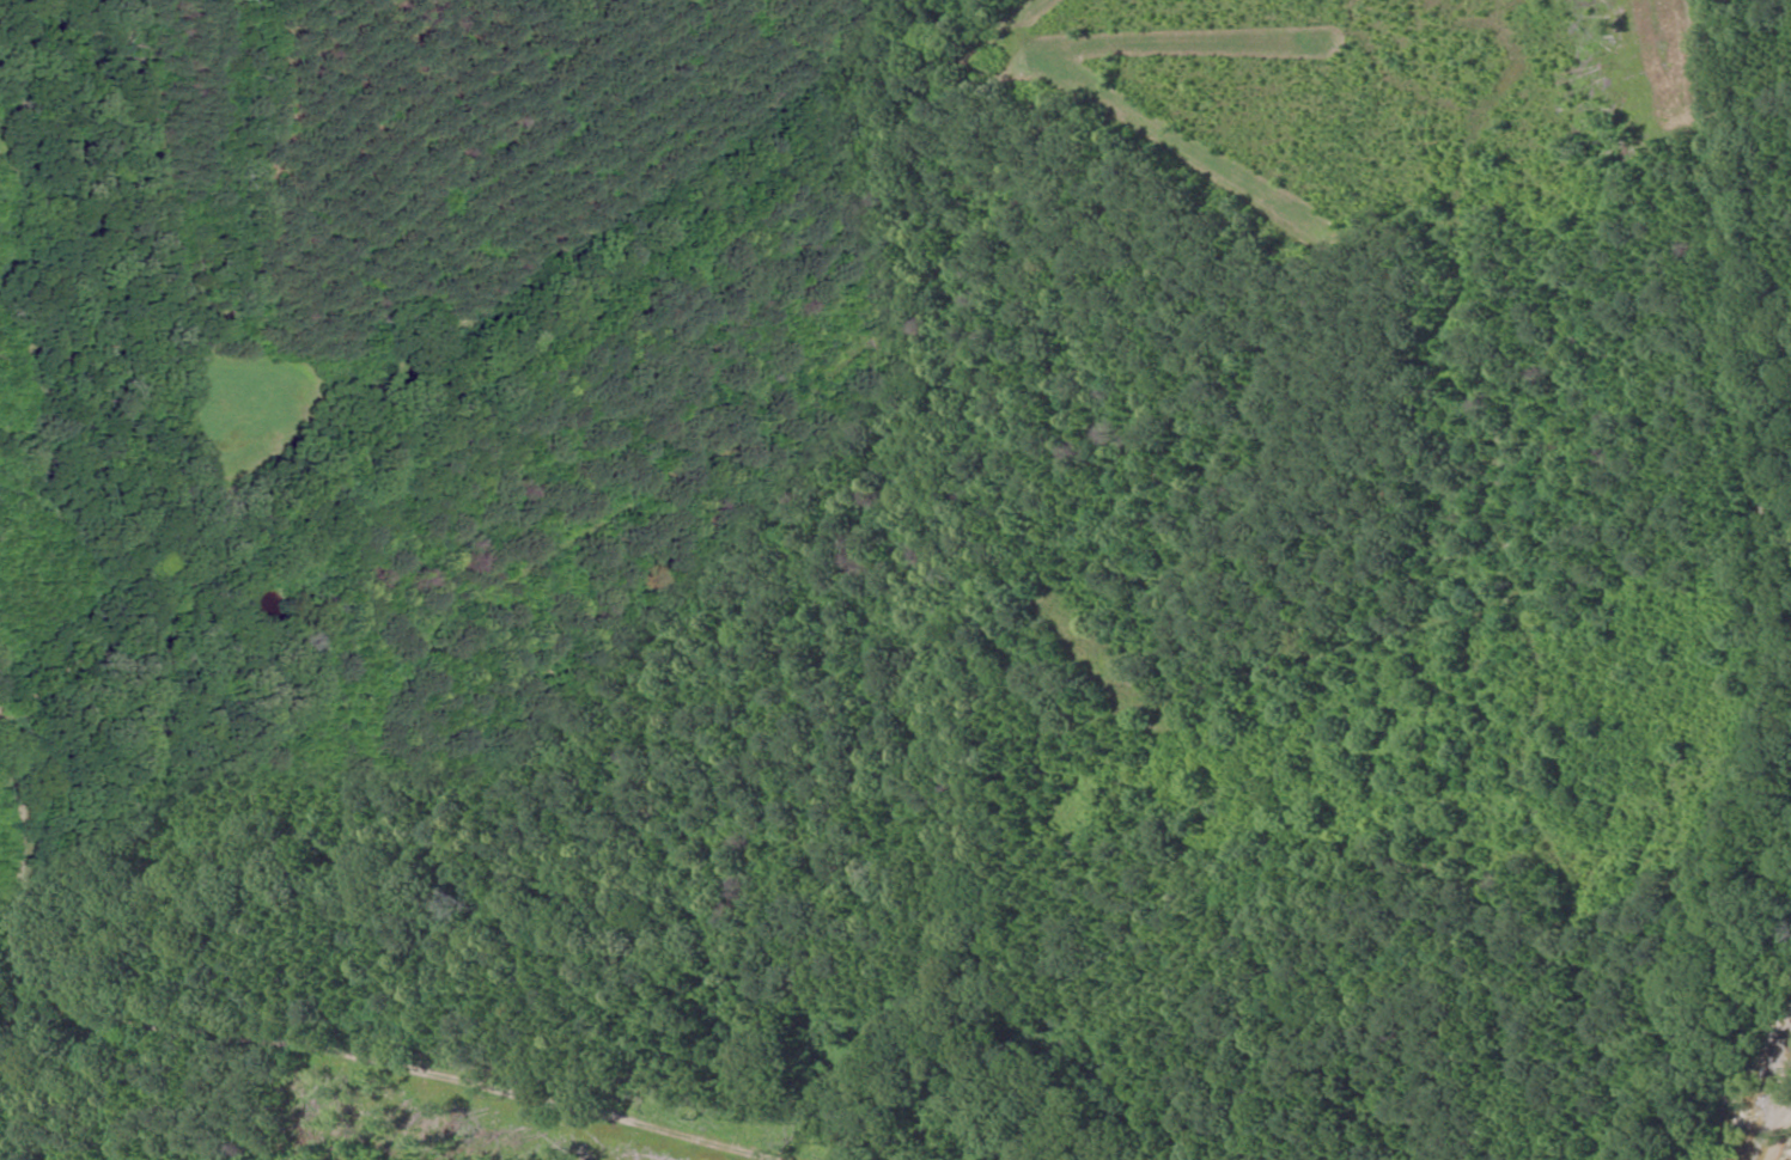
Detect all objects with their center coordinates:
road: (255, 1039)

